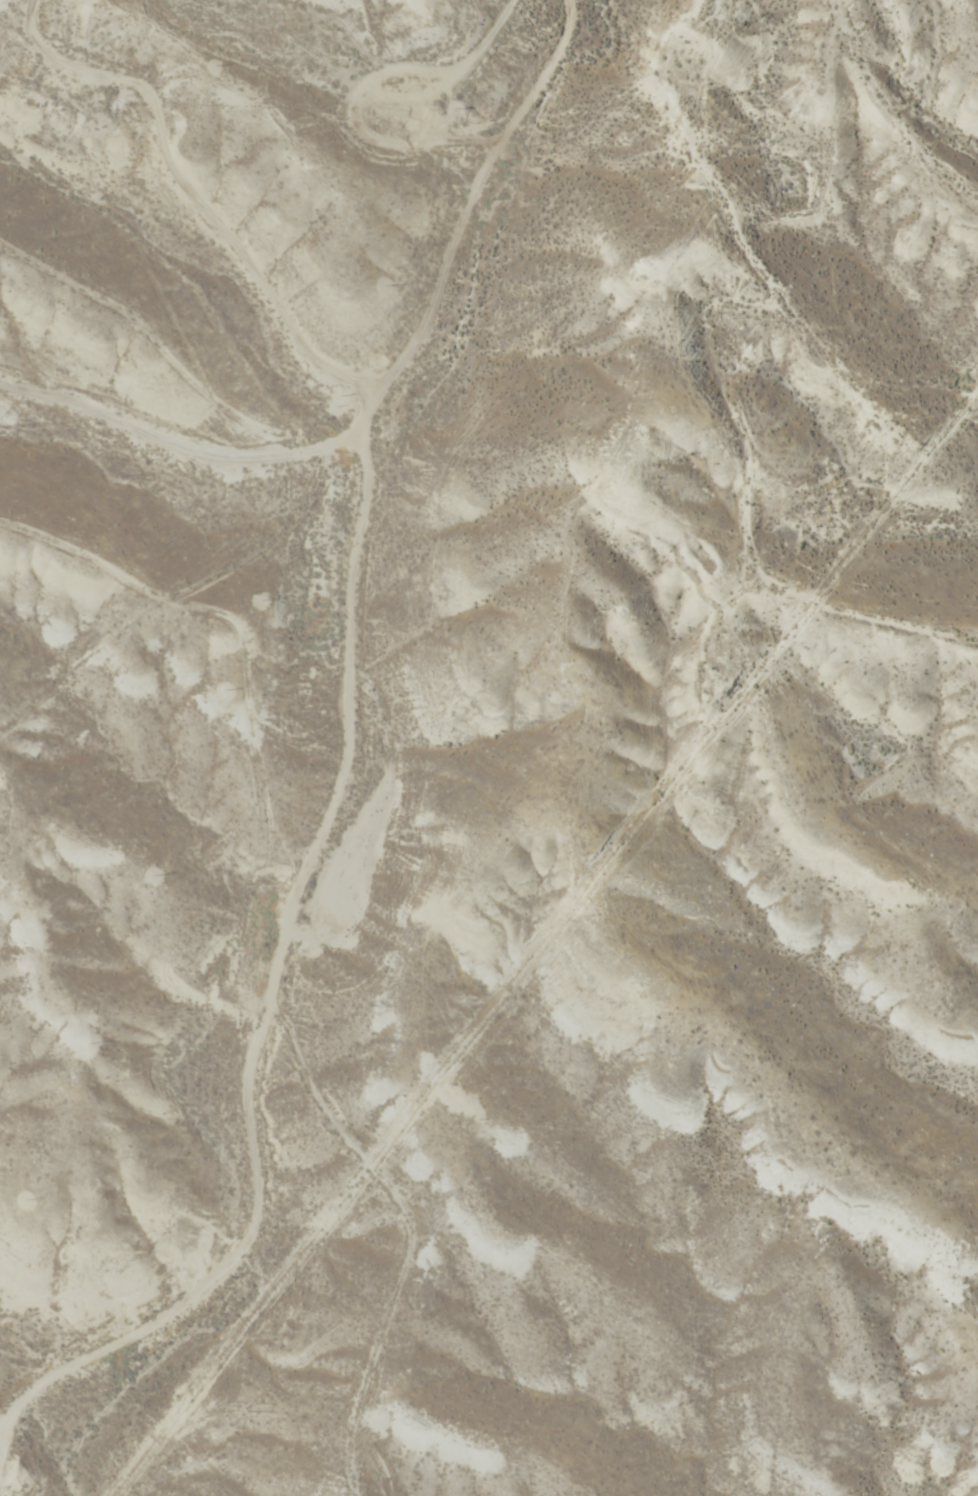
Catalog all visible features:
road: (157, 506)
road: (317, 771)

